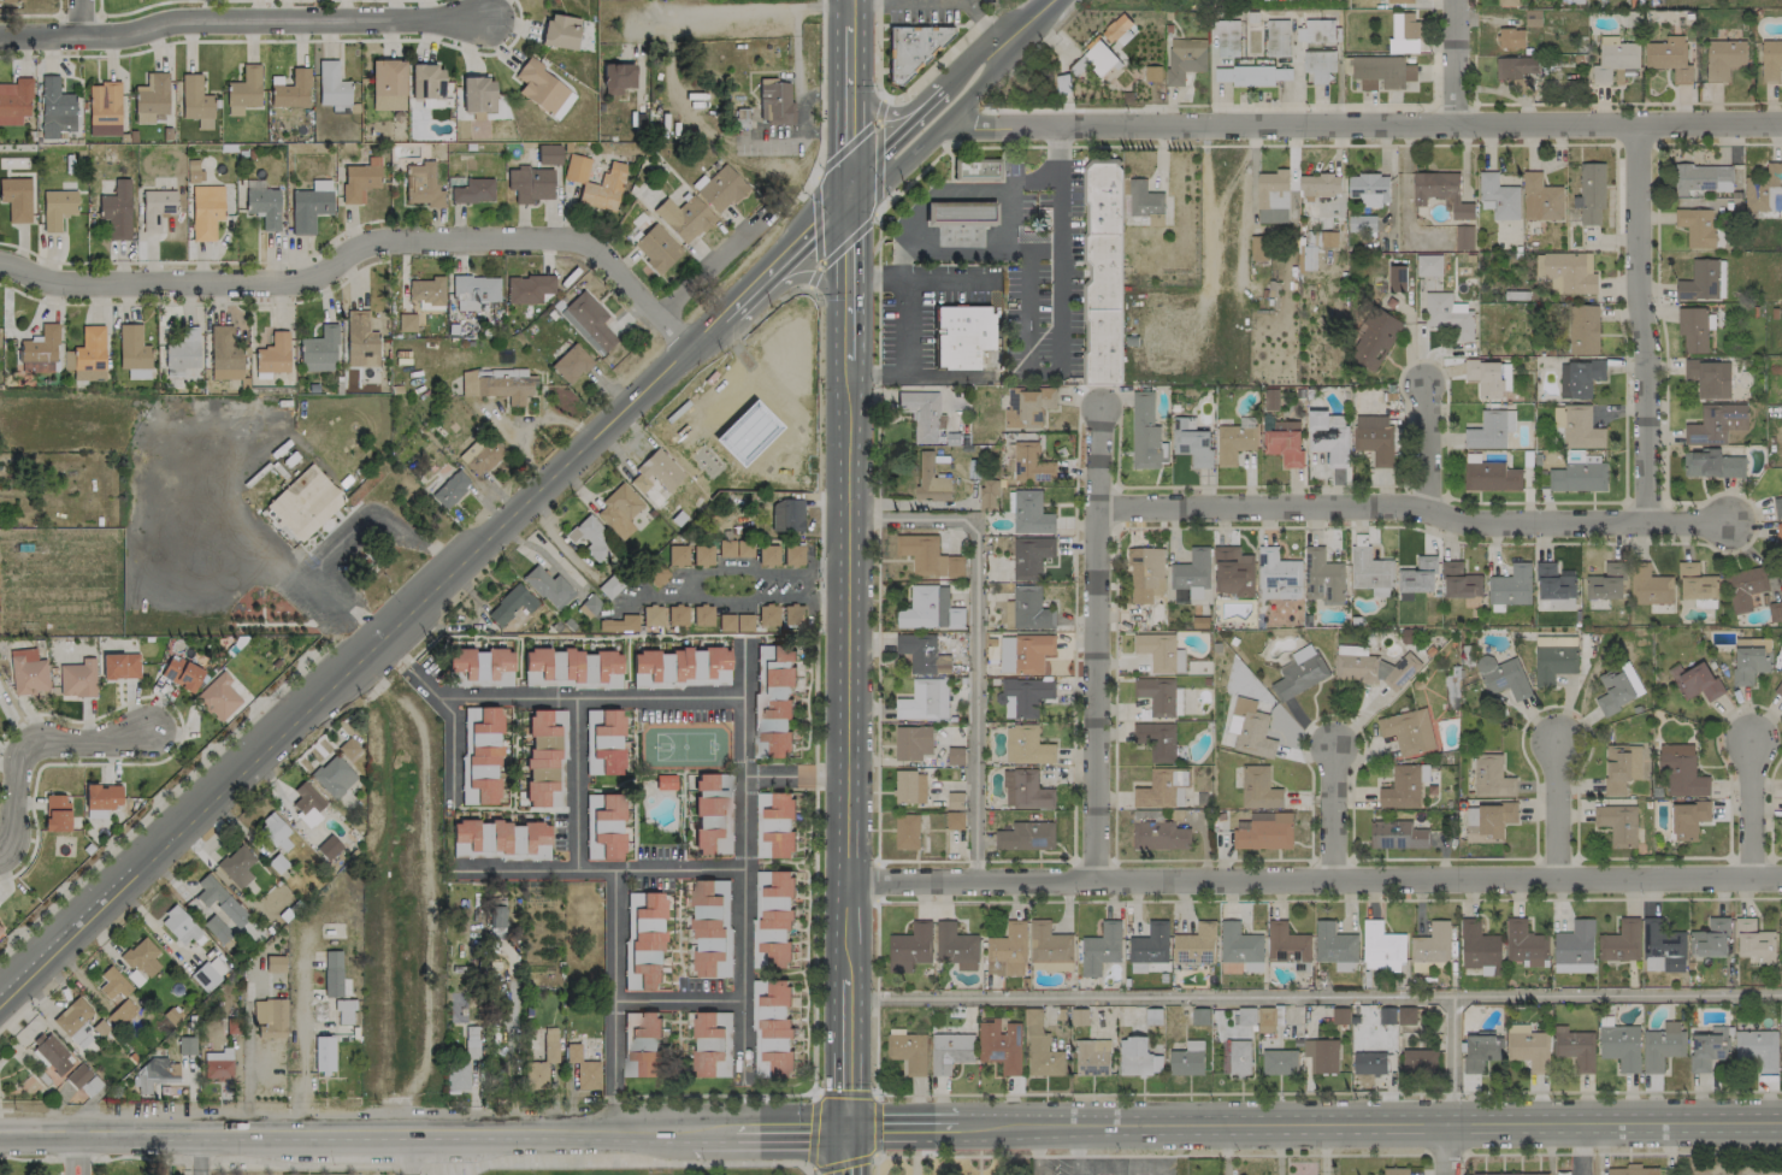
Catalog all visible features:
building: (11, 0)
road: (866, 0)
building: (1399, 1)
building: (1507, 2)
road: (1042, 4)
road: (132, 10)
road: (743, 11)
road: (34, 14)
road: (88, 17)
road: (980, 17)
road: (242, 19)
building: (560, 30)
building: (1318, 33)
road: (852, 34)
building: (1403, 34)
building: (1227, 36)
building: (1510, 37)
building: (1276, 39)
road: (986, 41)
road: (878, 48)
building: (911, 48)
building: (1669, 58)
building: (1184, 59)
building: (1613, 59)
building: (1723, 59)
building: (1770, 60)
road: (938, 61)
building: (1094, 61)
road: (1452, 63)
building: (1318, 65)
building: (1513, 67)
road: (1061, 69)
road: (1292, 72)
building: (1380, 72)
building: (1251, 76)
building: (616, 77)
road: (1211, 81)
building: (387, 84)
building: (426, 84)
building: (539, 87)
building: (332, 88)
building: (290, 89)
building: (243, 90)
building: (477, 94)
building: (149, 98)
road: (927, 98)
building: (14, 100)
road: (822, 100)
building: (195, 101)
building: (774, 102)
building: (55, 108)
building: (104, 108)
road: (883, 108)
road: (880, 110)
road: (952, 111)
road: (964, 125)
road: (1359, 125)
road: (852, 134)
road: (1633, 142)
road: (1717, 143)
road: (877, 148)
road: (844, 149)
building: (548, 153)
road: (877, 169)
building: (975, 170)
building: (1774, 173)
building: (1703, 178)
building: (359, 179)
road: (913, 179)
road: (975, 181)
building: (610, 182)
building: (530, 183)
building: (421, 184)
building: (1320, 185)
road: (958, 187)
building: (720, 189)
building: (1369, 189)
building: (473, 190)
building: (1440, 193)
building: (1591, 195)
building: (1271, 197)
building: (1498, 197)
building: (16, 199)
building: (1540, 199)
building: (1143, 200)
building: (262, 206)
building: (309, 206)
building: (57, 207)
building: (155, 207)
building: (116, 209)
building: (205, 211)
building: (957, 212)
building: (684, 218)
road: (815, 220)
building: (1361, 224)
building: (1697, 226)
road: (1204, 234)
road: (809, 238)
building: (1463, 238)
road: (845, 240)
building: (655, 244)
road: (1042, 246)
road: (364, 248)
building: (1258, 248)
building: (1306, 256)
road: (852, 261)
building: (1428, 265)
road: (708, 268)
building: (1102, 272)
building: (1570, 272)
road: (810, 274)
building: (1397, 278)
road: (812, 279)
road: (945, 281)
building: (1700, 282)
building: (527, 288)
building: (425, 290)
building: (474, 291)
road: (744, 297)
building: (1447, 314)
building: (588, 320)
road: (1640, 324)
building: (1694, 329)
building: (1582, 330)
building: (961, 335)
building: (360, 339)
building: (1374, 339)
road: (1023, 341)
building: (39, 350)
building: (183, 350)
building: (318, 350)
building: (132, 352)
building: (223, 353)
building: (89, 354)
building: (272, 354)
road: (908, 356)
building: (570, 364)
building: (501, 372)
road: (946, 374)
building: (1485, 377)
building: (1579, 378)
building: (1709, 378)
building: (496, 386)
road: (1623, 401)
building: (1028, 407)
building: (922, 414)
building: (1716, 424)
building: (1285, 426)
building: (1577, 427)
building: (1489, 430)
building: (1144, 432)
building: (1328, 437)
building: (1374, 438)
building: (1191, 442)
building: (1233, 443)
building: (1284, 447)
road: (1426, 447)
building: (480, 454)
building: (1031, 463)
building: (1712, 465)
building: (655, 473)
building: (1491, 477)
building: (1579, 477)
building: (931, 480)
building: (450, 489)
building: (303, 502)
building: (1777, 507)
road: (1411, 508)
building: (618, 510)
building: (1029, 514)
building: (786, 515)
road: (388, 521)
building: (589, 536)
building: (1778, 544)
building: (954, 545)
building: (734, 548)
building: (677, 554)
building: (702, 554)
building: (767, 554)
building: (792, 554)
building: (927, 556)
building: (1029, 557)
road: (250, 563)
road: (755, 572)
building: (1233, 572)
building: (1370, 572)
building: (1145, 574)
building: (1193, 575)
building: (1278, 575)
building: (1418, 577)
building: (1322, 578)
building: (1459, 581)
building: (1553, 583)
building: (1606, 583)
building: (1695, 583)
building: (1510, 586)
building: (1648, 586)
building: (548, 587)
building: (1745, 587)
road: (740, 597)
building: (511, 604)
building: (588, 604)
building: (930, 609)
building: (1027, 609)
building: (1775, 612)
building: (651, 615)
building: (677, 615)
building: (702, 615)
building: (767, 615)
building: (792, 615)
building: (734, 622)
road: (338, 630)
road: (975, 640)
building: (1556, 640)
road: (1094, 644)
building: (1023, 653)
building: (1160, 653)
building: (922, 654)
building: (544, 662)
road: (365, 663)
building: (480, 663)
building: (606, 663)
building: (1553, 663)
building: (684, 665)
building: (1749, 665)
building: (119, 666)
building: (578, 666)
road: (849, 669)
building: (1375, 669)
building: (28, 671)
building: (181, 673)
road: (412, 673)
building: (1299, 673)
building: (1501, 677)
building: (77, 678)
building: (1698, 683)
building: (1617, 690)
building: (1778, 690)
building: (1451, 691)
building: (1023, 696)
building: (1156, 696)
building: (217, 697)
road: (592, 699)
building: (773, 701)
building: (924, 701)
building: (1250, 730)
building: (1409, 731)
building: (603, 740)
building: (1156, 740)
building: (913, 743)
road: (23, 745)
building: (1026, 745)
building: (348, 748)
road: (456, 751)
building: (483, 751)
building: (955, 756)
building: (541, 757)
building: (1621, 768)
building: (1681, 770)
building: (334, 775)
road: (797, 777)
building: (1491, 778)
road: (579, 785)
building: (909, 787)
building: (1160, 789)
building: (1258, 789)
building: (1402, 789)
building: (1025, 790)
building: (102, 796)
road: (160, 797)
building: (955, 801)
building: (306, 803)
road: (1749, 810)
building: (55, 811)
road: (1557, 813)
road: (1332, 814)
building: (709, 815)
building: (1687, 819)
building: (954, 821)
building: (1487, 821)
road: (1769, 822)
building: (1617, 823)
building: (604, 825)
building: (774, 825)
building: (907, 831)
building: (275, 832)
building: (1265, 833)
building: (1158, 836)
building: (1397, 836)
building: (470, 837)
building: (1026, 837)
building: (519, 838)
building: (328, 846)
road: (747, 858)
building: (236, 866)
road: (600, 872)
road: (1314, 880)
building: (219, 901)
road: (1232, 901)
building: (773, 920)
building: (497, 921)
building: (181, 926)
building: (708, 927)
building: (0, 928)
road: (619, 937)
building: (644, 939)
building: (1710, 939)
building: (1621, 941)
building: (1754, 941)
building: (1008, 943)
building: (1381, 943)
building: (1049, 944)
building: (1150, 944)
building: (1196, 944)
building: (1286, 944)
building: (1333, 944)
building: (1432, 944)
building: (1524, 944)
building: (1781, 944)
building: (1664, 945)
building: (956, 946)
building: (1240, 946)
building: (909, 947)
building: (1479, 947)
building: (1574, 947)
building: (1101, 949)
building: (142, 957)
building: (275, 963)
building: (1652, 963)
building: (208, 973)
building: (332, 973)
building: (112, 982)
road: (1315, 997)
road: (302, 1002)
road: (683, 1003)
road: (1, 1005)
road: (1, 1006)
building: (343, 1011)
building: (1246, 1016)
building: (1339, 1016)
building: (1386, 1016)
building: (1405, 1016)
building: (270, 1017)
building: (1265, 1020)
building: (75, 1022)
building: (772, 1026)
building: (709, 1043)
building: (187, 1045)
building: (1001, 1045)
building: (1621, 1046)
building: (1662, 1046)
building: (1528, 1047)
building: (1575, 1047)
building: (1040, 1049)
building: (1707, 1049)
building: (1757, 1050)
building: (1781, 1050)
building: (908, 1051)
building: (52, 1052)
building: (950, 1052)
building: (1480, 1052)
building: (323, 1053)
building: (1321, 1056)
building: (1092, 1057)
building: (1239, 1057)
building: (1137, 1058)
building: (1187, 1059)
road: (1451, 1059)
building: (461, 1062)
building: (1279, 1062)
building: (1418, 1062)
road: (246, 1063)
building: (1369, 1063)
building: (217, 1064)
building: (539, 1067)
building: (579, 1067)
road: (618, 1067)
road: (849, 1071)
building: (154, 1074)
building: (77, 1075)
road: (1328, 1092)
road: (707, 1094)
road: (810, 1098)
road: (300, 1103)
road: (1315, 1124)
road: (424, 1132)
road: (1580, 1149)
road: (1278, 1150)
road: (1445, 1150)
road: (849, 1151)
road: (1034, 1151)
road: (409, 1153)
road: (71, 1155)
road: (195, 1155)
road: (637, 1161)
road: (873, 1163)
road: (1101, 1167)
parking lot: (1108, 1167)
road: (1073, 1170)
road: (1123, 1170)
road: (1168, 1170)
building: (1631, 1170)
building: (1395, 1171)
building: (1492, 1174)

